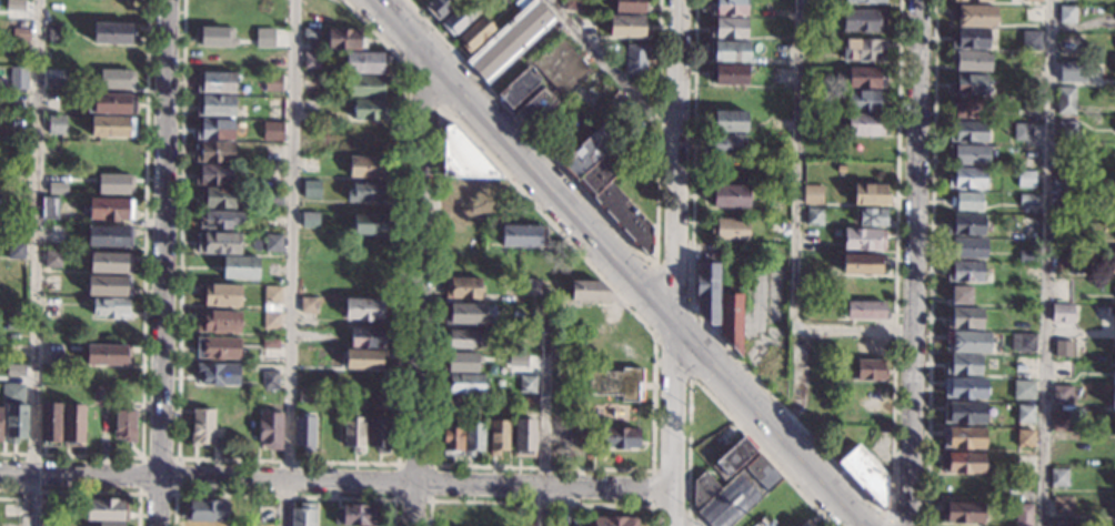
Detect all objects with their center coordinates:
building: (977, 0)
building: (864, 1)
building: (1032, 1)
building: (14, 4)
building: (572, 4)
road: (556, 6)
building: (631, 6)
building: (439, 7)
building: (727, 7)
building: (1066, 14)
building: (974, 16)
building: (1032, 16)
building: (460, 17)
building: (864, 21)
building: (626, 27)
building: (729, 29)
building: (113, 33)
building: (311, 33)
building: (475, 33)
building: (20, 34)
building: (56, 36)
building: (215, 36)
building: (265, 36)
building: (345, 38)
building: (970, 39)
building: (510, 40)
building: (1031, 40)
building: (863, 50)
building: (18, 51)
building: (729, 51)
building: (635, 59)
building: (1031, 59)
building: (311, 60)
building: (971, 61)
building: (365, 62)
road: (611, 70)
building: (1072, 70)
building: (727, 74)
building: (1109, 75)
building: (18, 78)
building: (864, 78)
building: (117, 79)
building: (552, 79)
building: (53, 82)
building: (214, 82)
building: (272, 83)
building: (968, 84)
building: (368, 85)
building: (1031, 85)
road: (423, 87)
building: (518, 88)
building: (614, 100)
building: (1064, 100)
building: (18, 101)
building: (864, 101)
building: (110, 104)
building: (214, 105)
building: (1031, 105)
building: (970, 107)
building: (369, 110)
building: (623, 118)
building: (727, 121)
building: (57, 124)
building: (864, 124)
building: (112, 127)
building: (273, 129)
building: (214, 130)
building: (1022, 131)
building: (1067, 131)
building: (967, 132)
building: (724, 143)
building: (214, 152)
building: (586, 152)
building: (1031, 152)
building: (968, 154)
building: (368, 166)
building: (213, 175)
building: (599, 175)
building: (472, 178)
building: (967, 178)
building: (1025, 179)
building: (110, 181)
building: (51, 185)
building: (311, 190)
building: (368, 192)
building: (813, 192)
building: (871, 194)
building: (729, 195)
building: (217, 198)
building: (274, 198)
building: (1026, 200)
building: (966, 202)
building: (49, 208)
building: (110, 209)
building: (814, 215)
building: (624, 216)
building: (872, 216)
building: (220, 220)
building: (309, 220)
road: (548, 222)
building: (370, 223)
road: (796, 223)
building: (17, 224)
building: (965, 224)
building: (1026, 224)
building: (775, 227)
building: (729, 229)
road: (620, 231)
building: (461, 232)
building: (56, 235)
building: (523, 235)
building: (1114, 235)
building: (110, 236)
building: (863, 240)
building: (272, 242)
building: (219, 243)
building: (966, 247)
building: (16, 250)
building: (1027, 256)
building: (52, 259)
building: (1064, 260)
road: (32, 262)
road: (291, 262)
building: (1113, 262)
building: (111, 263)
road: (163, 263)
road: (675, 263)
road: (917, 263)
road: (931, 263)
road: (1046, 263)
road: (611, 264)
building: (863, 264)
building: (240, 267)
building: (965, 272)
building: (51, 282)
building: (109, 285)
building: (462, 287)
building: (532, 287)
building: (590, 291)
building: (707, 291)
building: (220, 295)
road: (419, 295)
building: (962, 295)
road: (142, 299)
building: (270, 299)
parking lot: (765, 301)
building: (307, 304)
building: (51, 306)
building: (111, 307)
building: (364, 308)
building: (863, 310)
building: (464, 313)
building: (1062, 313)
building: (1104, 313)
building: (964, 318)
building: (732, 320)
building: (270, 321)
building: (218, 322)
building: (13, 325)
road: (856, 330)
road: (763, 334)
building: (365, 337)
building: (529, 337)
building: (462, 338)
building: (967, 342)
building: (1026, 342)
building: (271, 343)
building: (218, 347)
building: (1114, 347)
building: (1065, 348)
building: (108, 355)
building: (365, 360)
building: (464, 361)
building: (528, 361)
building: (964, 365)
building: (870, 370)
building: (1063, 370)
building: (12, 371)
building: (1113, 373)
building: (219, 374)
building: (269, 380)
road: (692, 380)
building: (464, 383)
building: (616, 383)
building: (528, 384)
building: (965, 387)
building: (1023, 390)
building: (12, 393)
building: (103, 394)
building: (1062, 394)
building: (305, 396)
road: (711, 398)
building: (1113, 398)
building: (383, 402)
building: (523, 402)
building: (964, 413)
building: (1025, 414)
road: (543, 417)
building: (125, 422)
building: (16, 423)
building: (49, 424)
building: (0, 425)
building: (73, 425)
building: (1061, 426)
building: (202, 427)
building: (270, 429)
building: (304, 432)
building: (354, 433)
building: (380, 435)
building: (452, 436)
building: (499, 436)
building: (564, 436)
building: (473, 437)
building: (524, 437)
building: (619, 437)
building: (963, 437)
building: (1025, 438)
road: (177, 457)
building: (732, 459)
road: (302, 461)
building: (962, 463)
road: (432, 467)
road: (652, 471)
building: (866, 476)
building: (1058, 478)
road: (336, 479)
building: (1114, 483)
road: (860, 490)
road: (86, 492)
building: (733, 493)
road: (281, 495)
road: (540, 502)
building: (1112, 504)
building: (106, 509)
building: (207, 510)
building: (961, 513)
building: (1064, 513)
building: (303, 515)
road: (681, 515)
building: (1023, 515)
building: (356, 516)
building: (564, 519)
road: (887, 520)
building: (614, 522)
building: (48, 524)
building: (110, 524)
building: (806, 524)
building: (202, 525)

